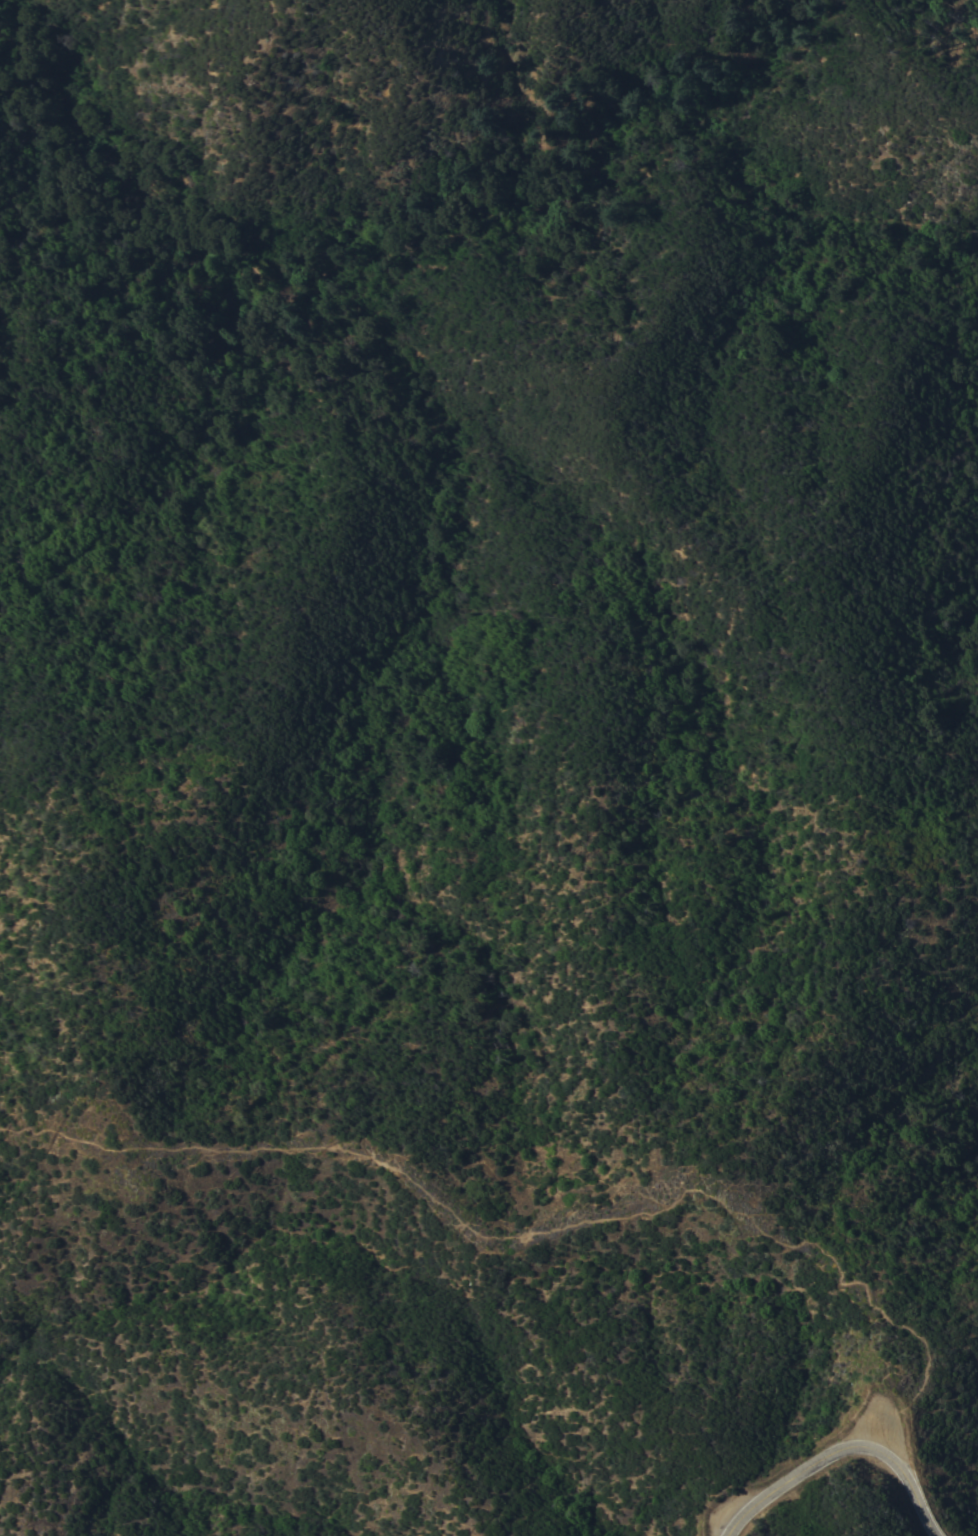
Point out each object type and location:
road: (840, 1448)

